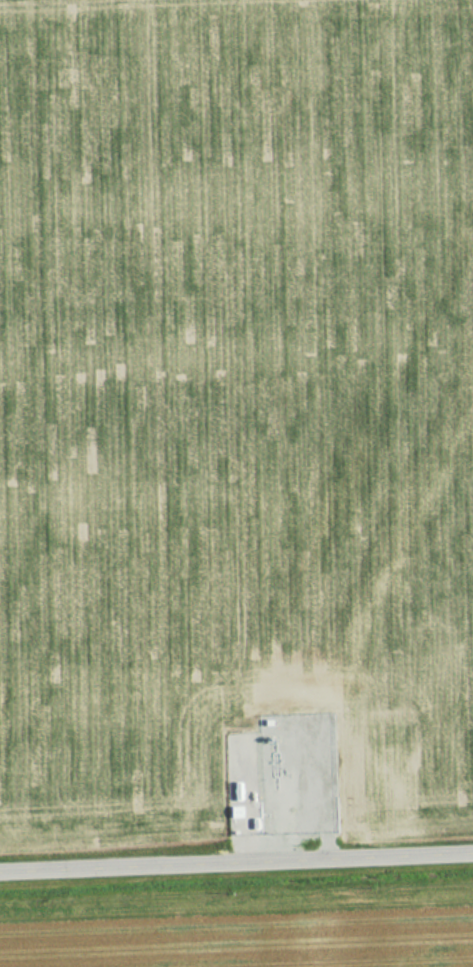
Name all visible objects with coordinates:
crop: (230, 396)
road: (287, 816)
road: (288, 850)
road: (236, 866)
crop: (250, 938)

